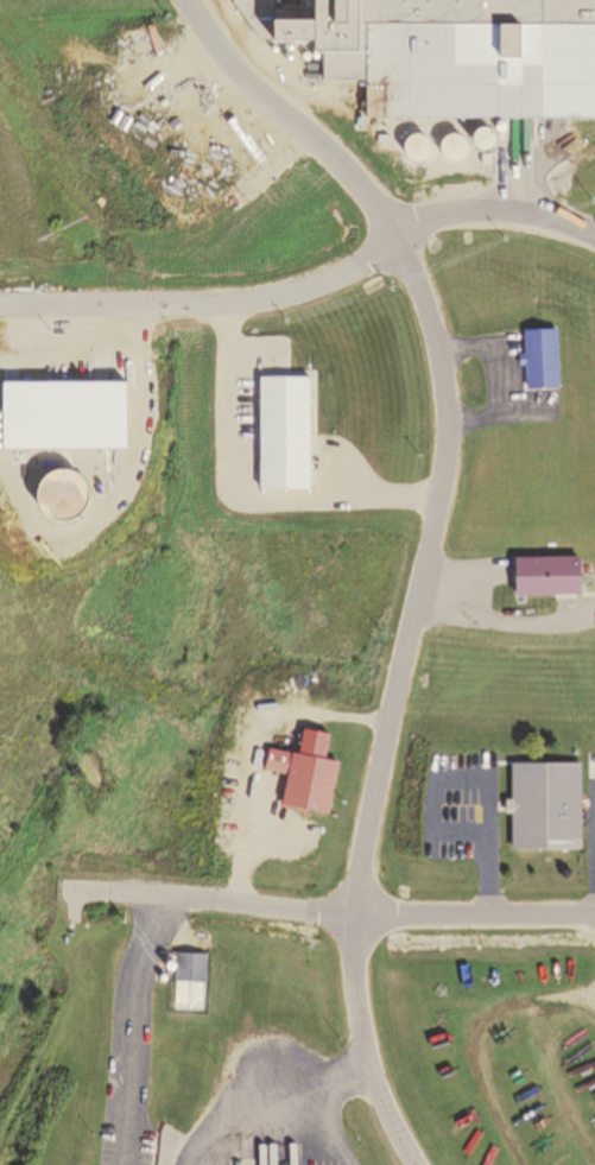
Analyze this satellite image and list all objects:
building: (433, 55)
road: (495, 205)
road: (208, 298)
building: (537, 359)
road: (430, 545)
building: (546, 576)
building: (306, 771)
building: (538, 808)
road: (485, 846)
road: (327, 908)
building: (186, 981)
road: (133, 1027)
road: (349, 1075)
road: (246, 1112)
road: (331, 1125)

